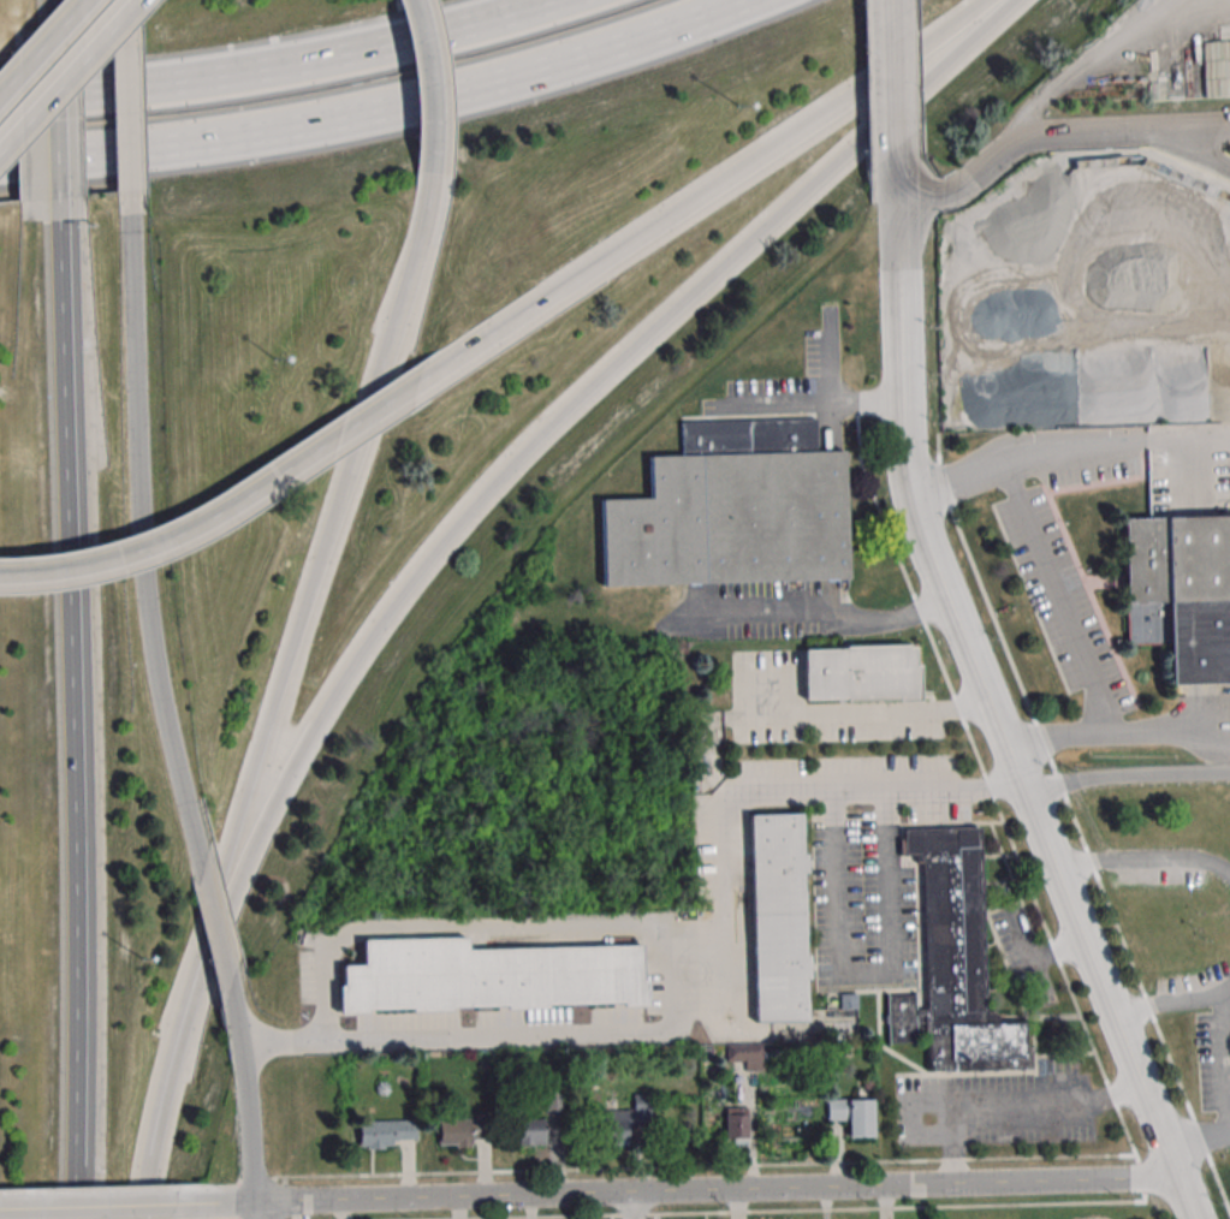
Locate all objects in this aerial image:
road: (54, 11)
road: (124, 20)
road: (42, 44)
road: (279, 66)
road: (896, 73)
road: (67, 75)
road: (379, 109)
road: (432, 109)
road: (58, 121)
road: (129, 127)
road: (1054, 130)
road: (717, 185)
road: (712, 276)
road: (400, 305)
parking lot: (794, 390)
road: (832, 400)
road: (1115, 448)
road: (233, 499)
road: (338, 506)
building: (732, 511)
road: (143, 540)
building: (1181, 596)
road: (1058, 605)
road: (820, 612)
building: (861, 673)
road: (982, 696)
road: (890, 709)
road: (72, 719)
road: (311, 735)
road: (1170, 743)
road: (261, 768)
road: (1123, 779)
road: (750, 784)
road: (1142, 862)
building: (777, 917)
road: (219, 940)
building: (953, 964)
road: (677, 969)
building: (487, 974)
road: (867, 976)
road: (1172, 1007)
building: (744, 1054)
road: (1097, 1059)
road: (178, 1065)
road: (1226, 1094)
road: (248, 1111)
road: (1026, 1112)
building: (852, 1114)
building: (626, 1119)
building: (736, 1125)
building: (463, 1129)
building: (385, 1131)
building: (531, 1131)
road: (952, 1149)
road: (907, 1185)
road: (405, 1197)
road: (88, 1205)
road: (634, 1205)
road: (257, 1211)
road: (655, 1217)

